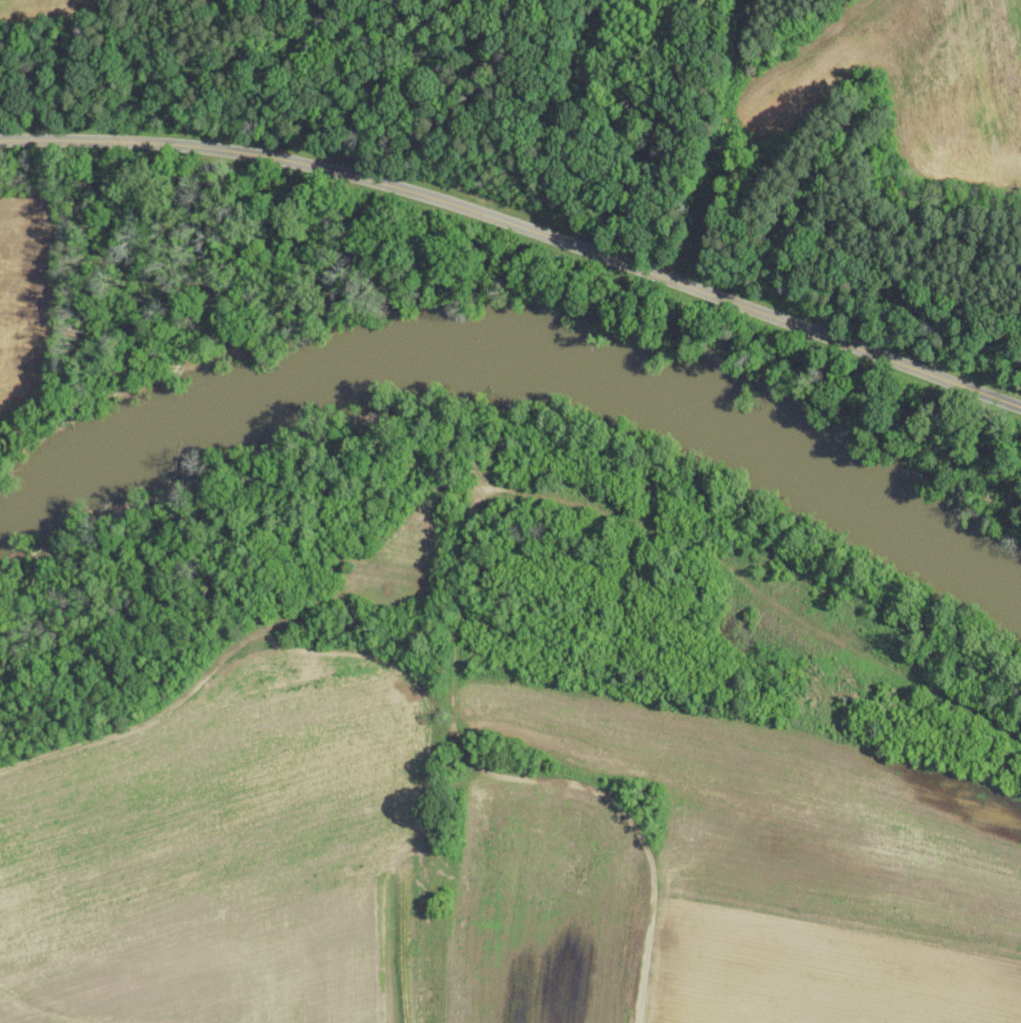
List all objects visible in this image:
road: (519, 227)
river: (519, 364)
road: (523, 776)

